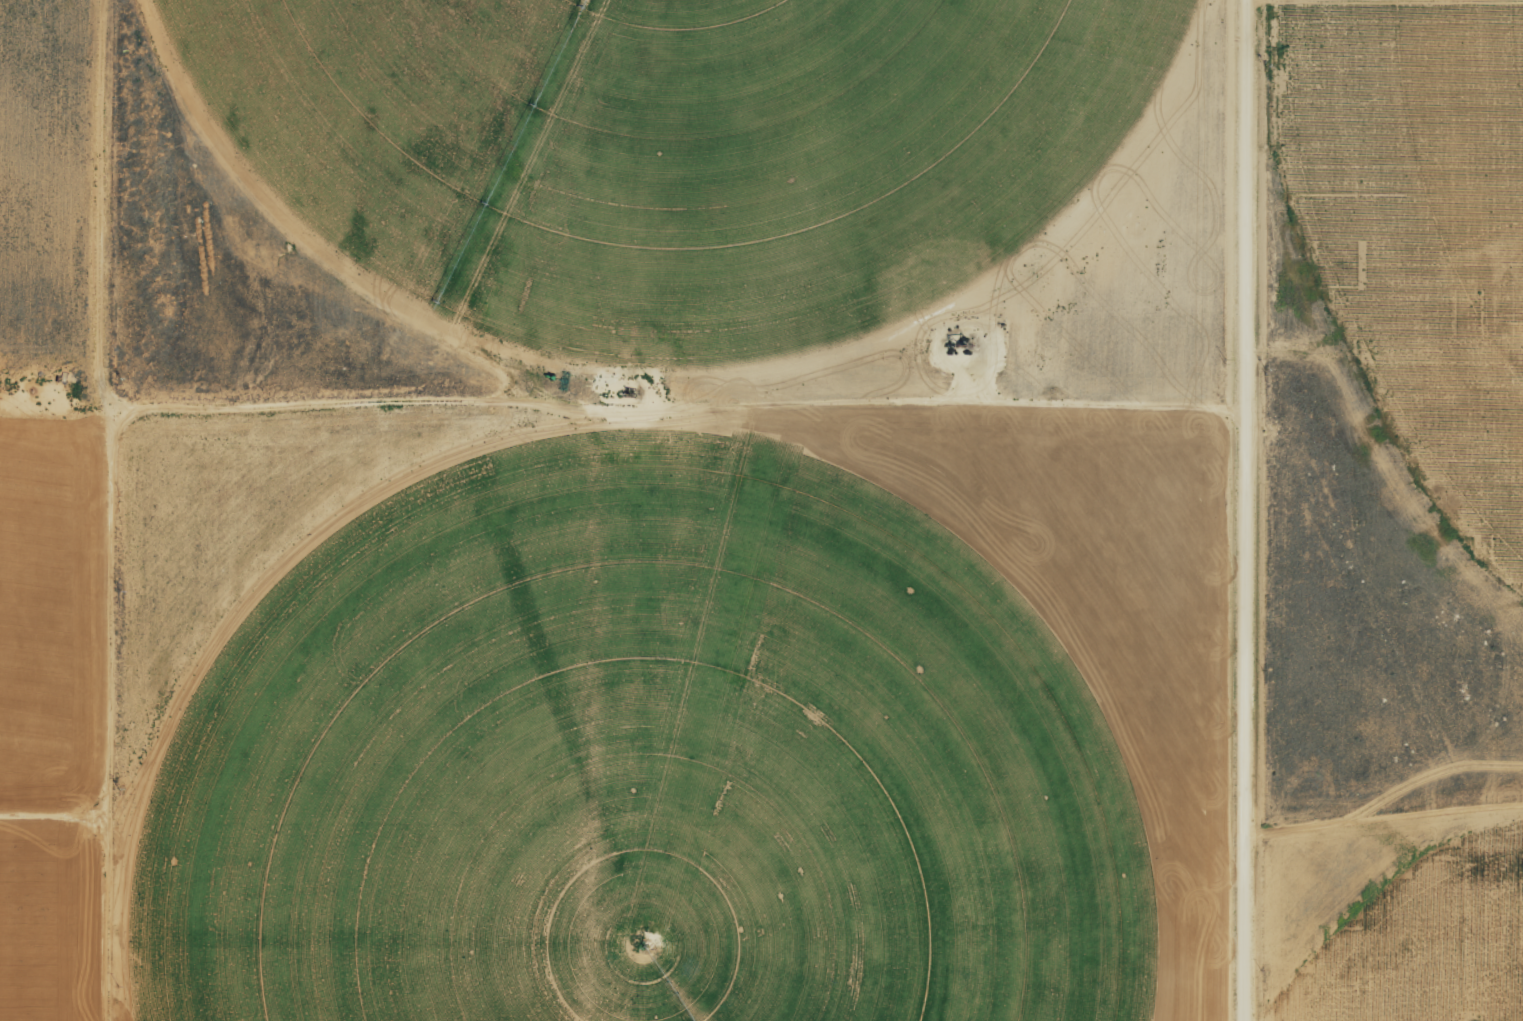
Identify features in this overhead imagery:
petroleum well: (954, 345)
petroleum well: (633, 392)
road: (115, 510)
road: (1264, 510)

